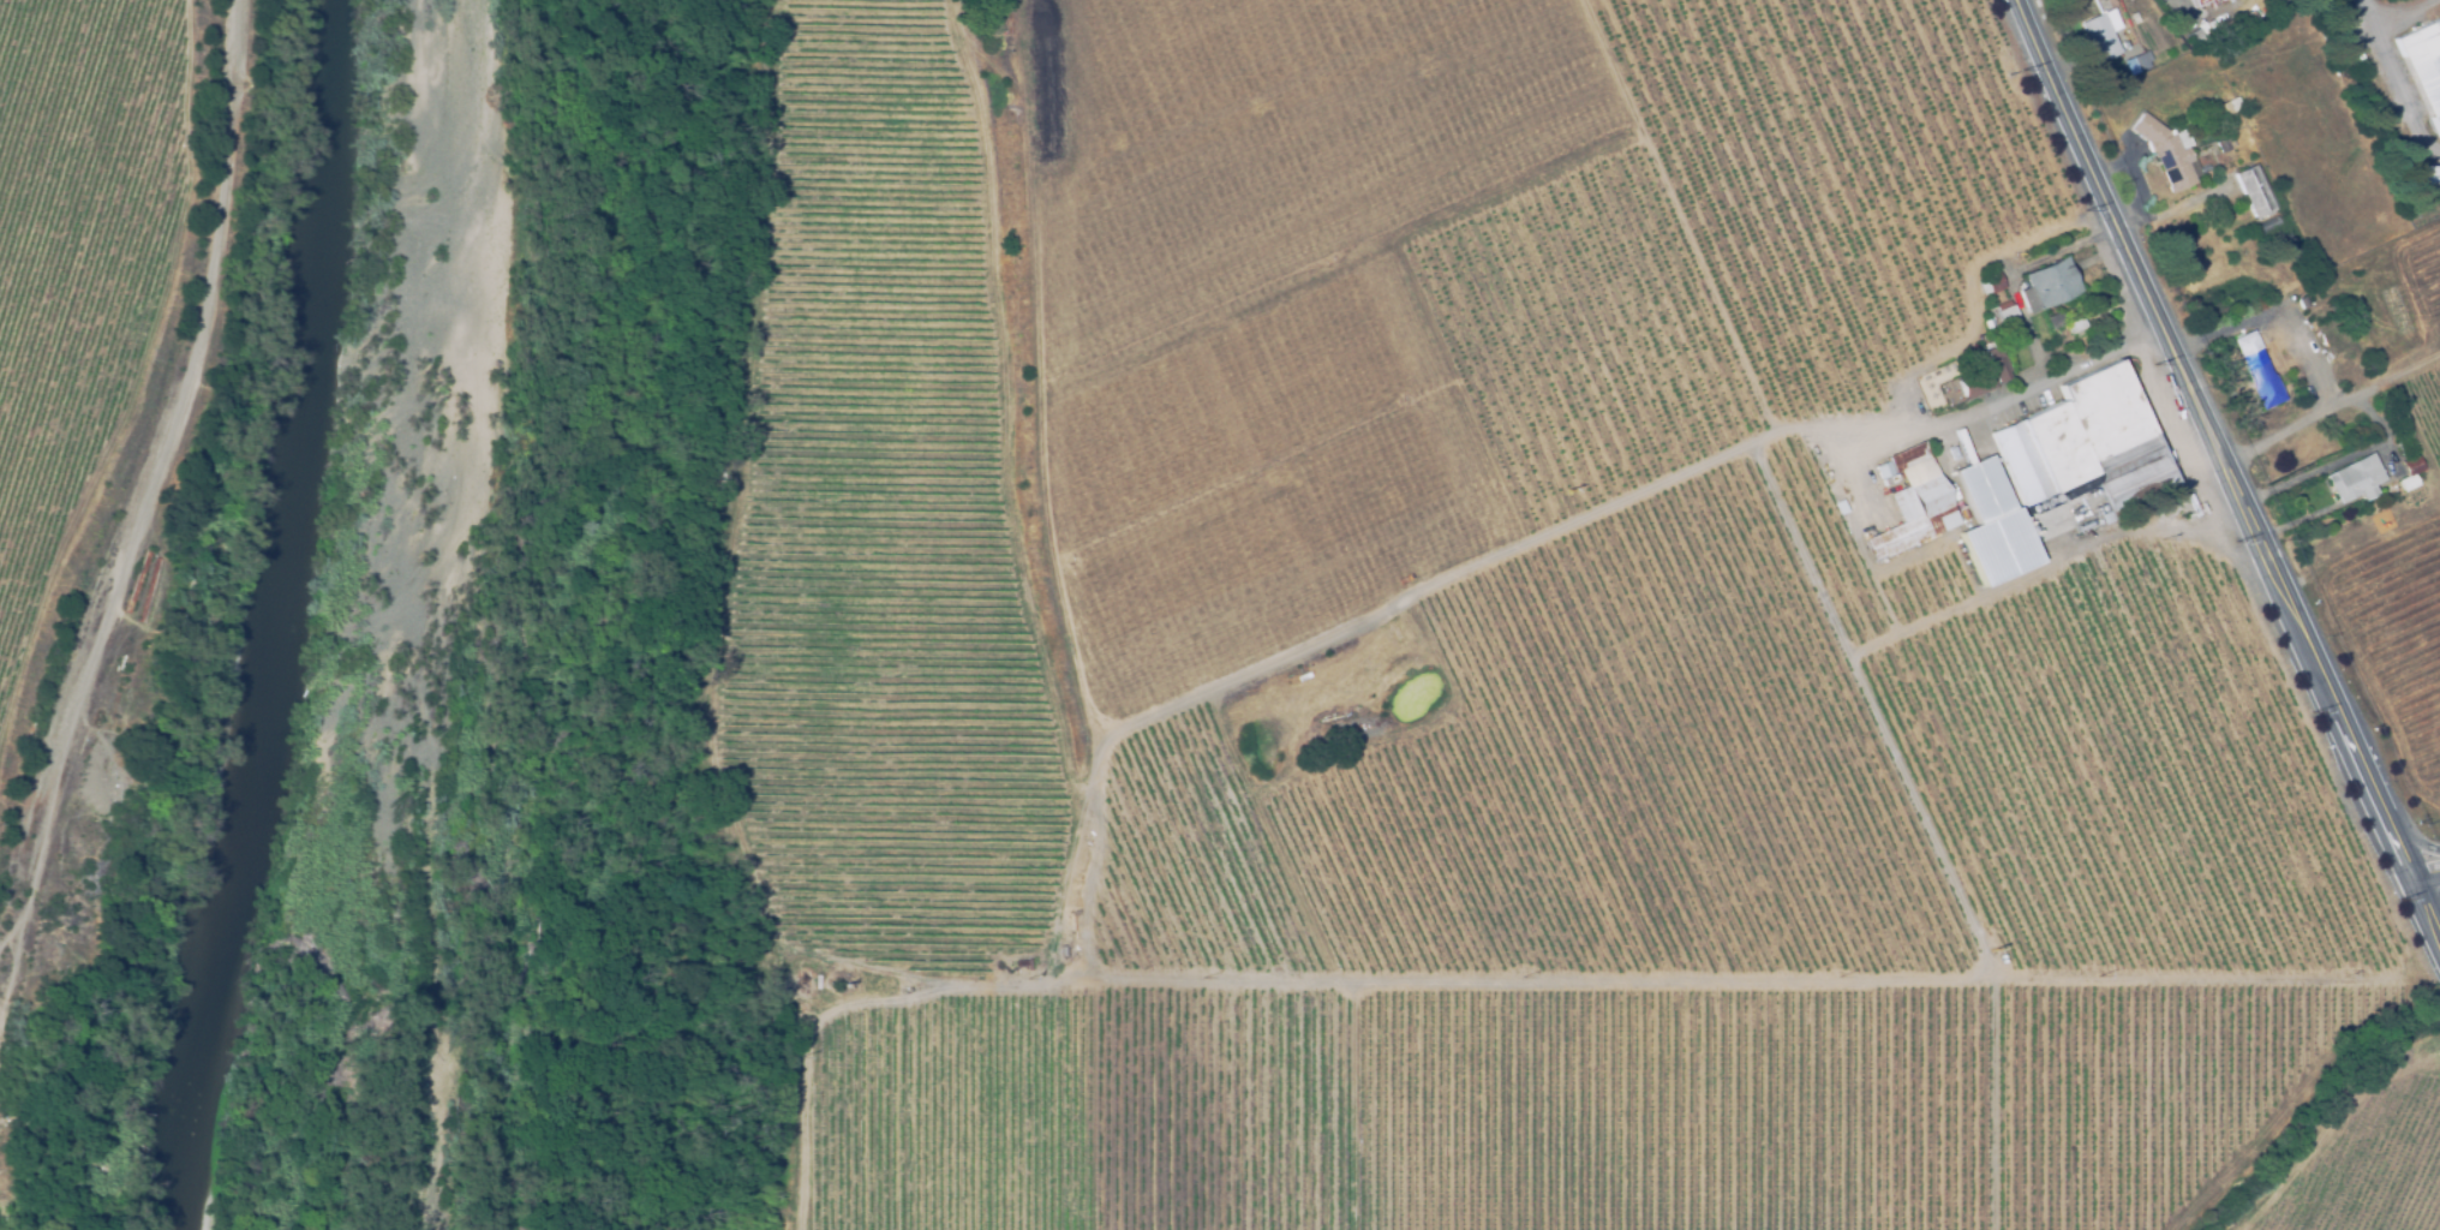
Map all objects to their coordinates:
building: (2217, 0)
building: (2225, 1)
road: (2368, 12)
road: (2400, 12)
building: (2134, 19)
building: (2243, 22)
building: (2101, 37)
building: (2194, 40)
building: (2125, 44)
building: (2357, 61)
building: (2137, 64)
building: (2423, 67)
road: (2400, 92)
building: (2227, 108)
building: (2227, 144)
building: (2167, 153)
building: (2205, 169)
building: (2424, 174)
building: (2253, 192)
building: (2266, 227)
building: (1991, 283)
building: (2047, 286)
building: (2302, 303)
building: (2318, 315)
building: (2002, 317)
building: (2055, 321)
building: (2076, 328)
building: (2345, 342)
building: (1996, 363)
building: (2256, 370)
building: (1973, 381)
building: (1945, 405)
road: (2332, 406)
road: (1963, 417)
building: (2083, 446)
road: (2227, 466)
building: (1880, 471)
building: (2410, 473)
building: (2354, 479)
building: (2010, 491)
building: (1912, 506)
building: (1838, 507)
road: (1584, 515)
building: (1991, 526)
road: (139, 565)
road: (2043, 565)
river: (233, 615)
river: (268, 615)
river: (303, 615)
road: (2424, 867)
road: (1657, 981)

